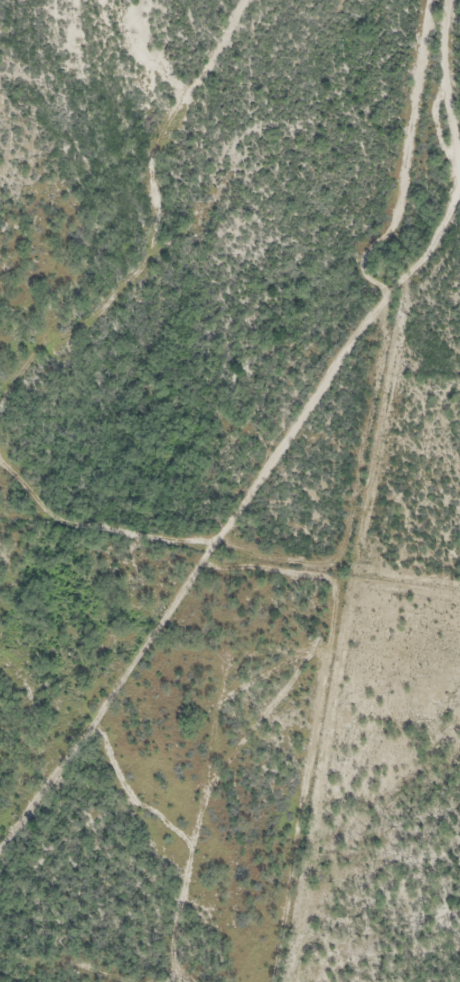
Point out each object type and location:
road: (271, 432)

